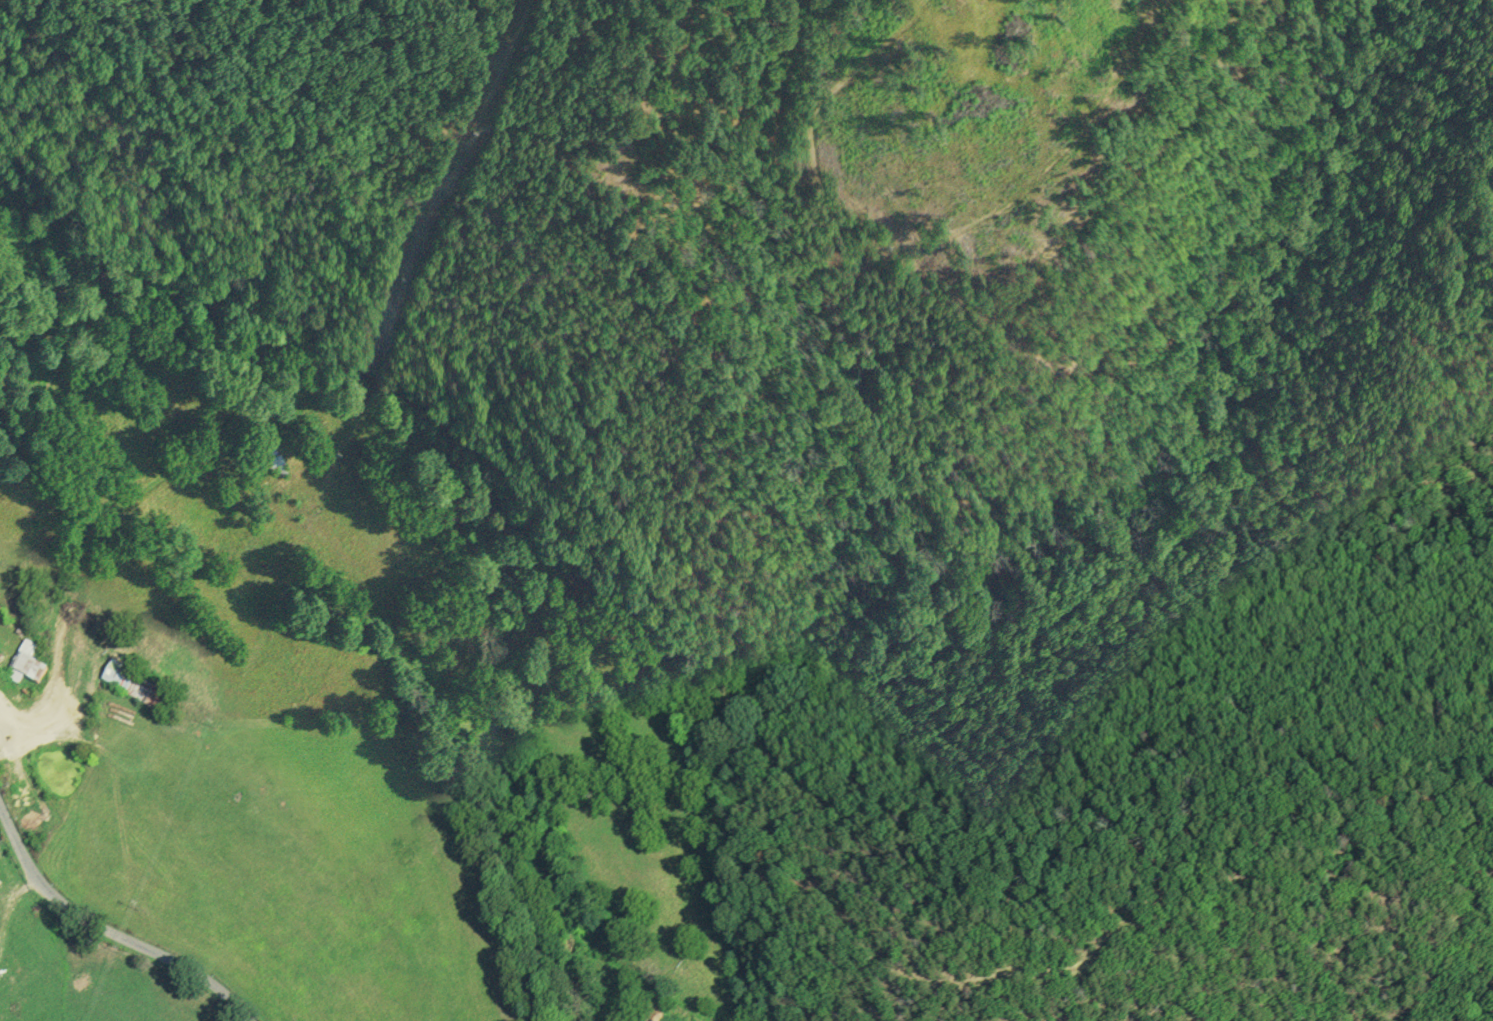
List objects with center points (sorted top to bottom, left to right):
building: (25, 664)
building: (136, 688)
road: (112, 932)

